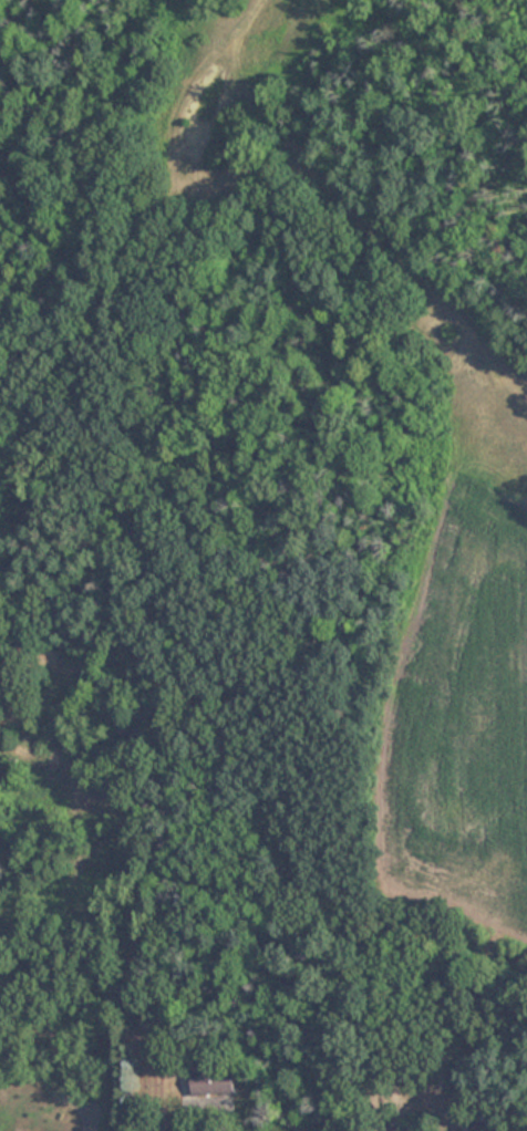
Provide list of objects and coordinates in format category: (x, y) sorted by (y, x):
building: (206, 1082)

